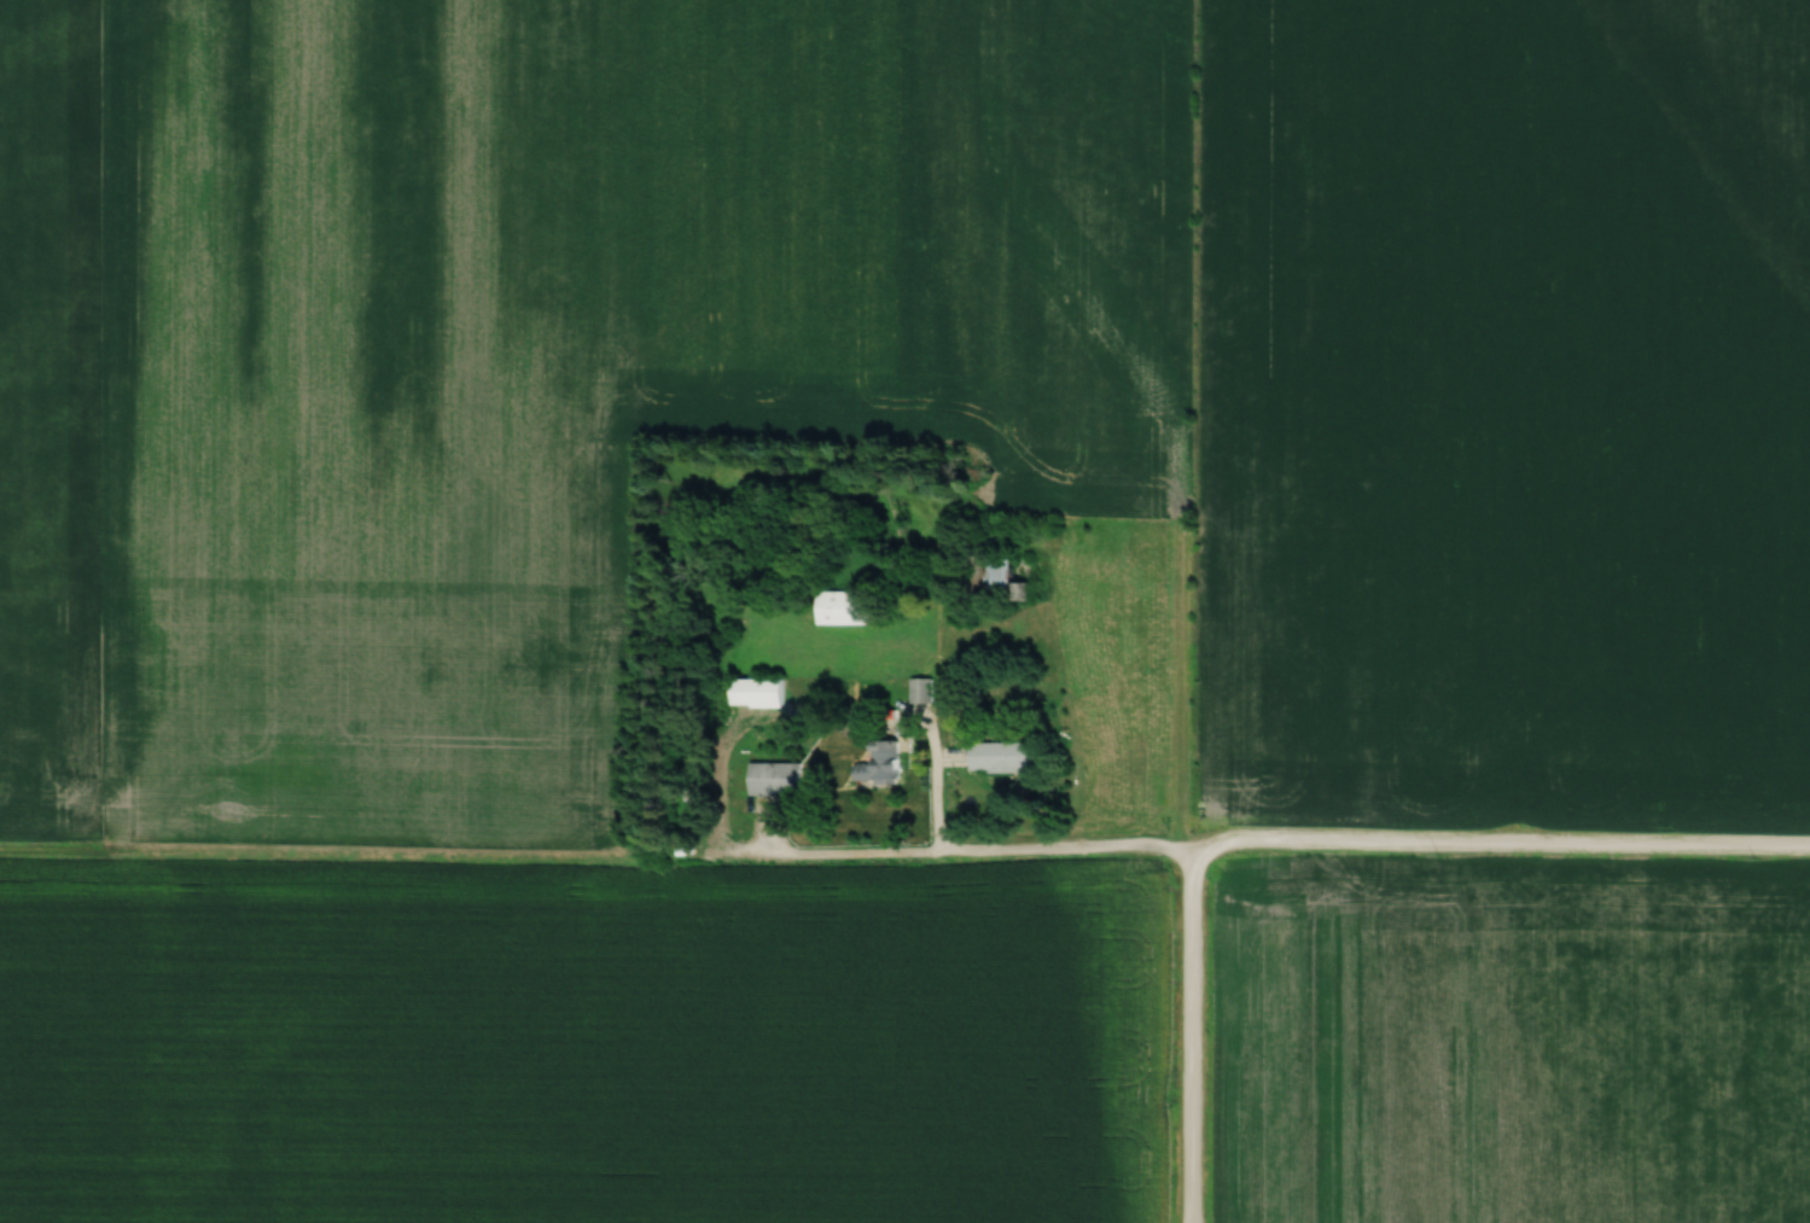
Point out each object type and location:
building: (850, 608)
building: (925, 692)
building: (767, 694)
building: (1003, 758)
building: (884, 764)
building: (782, 780)
road: (947, 805)
road: (1497, 848)
road: (1017, 852)
road: (1189, 1037)

